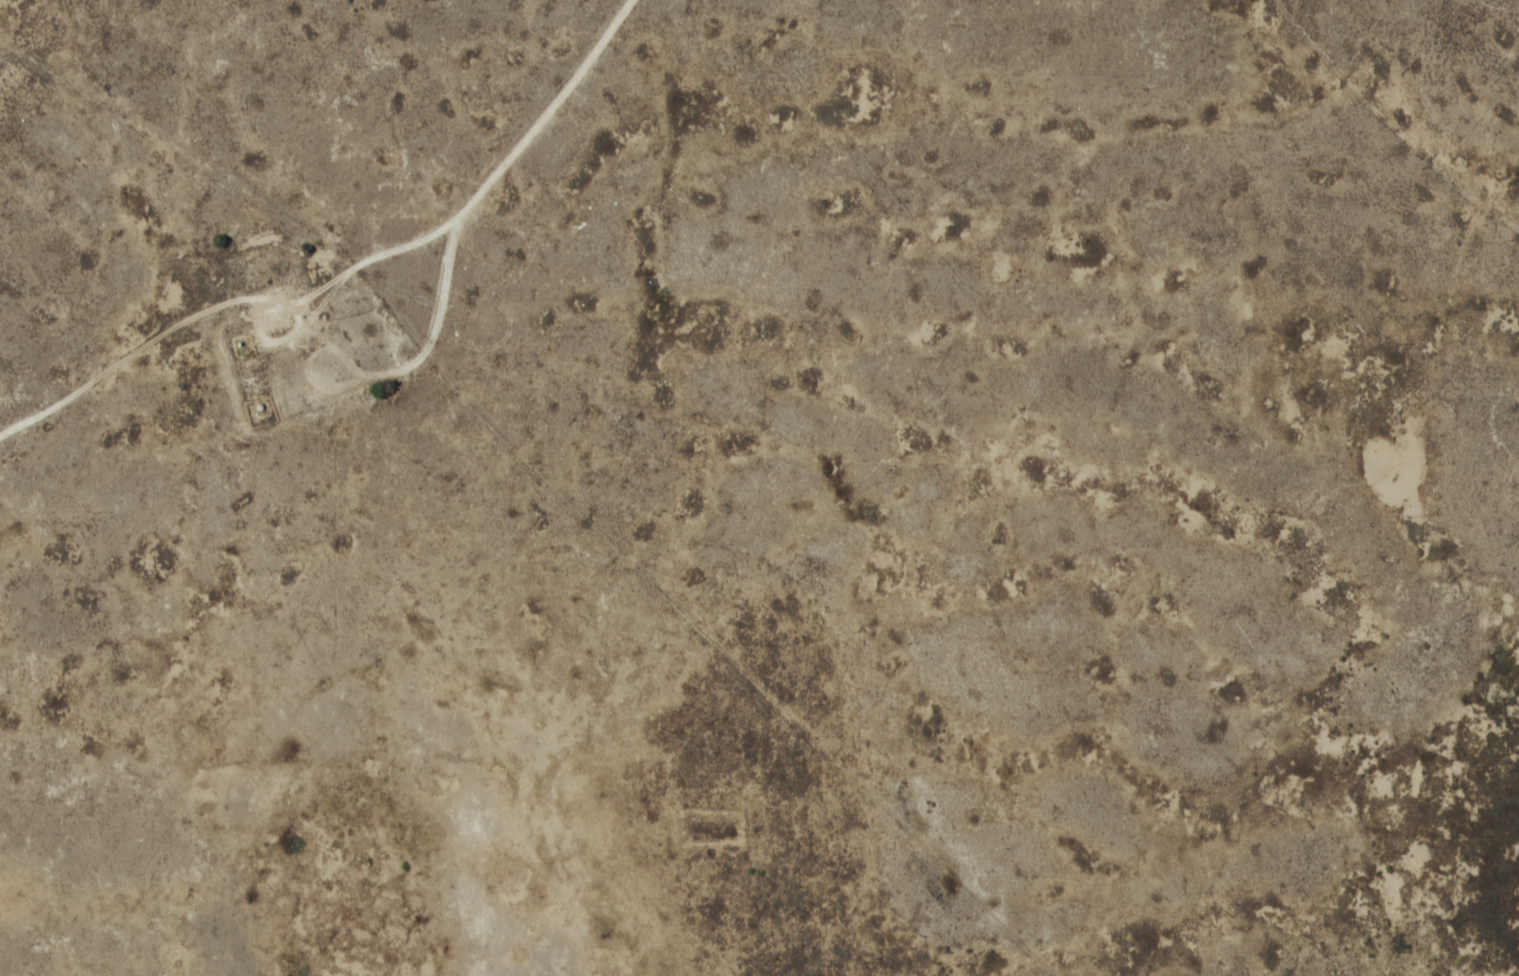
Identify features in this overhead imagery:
road: (1390, 432)
road: (1511, 883)

